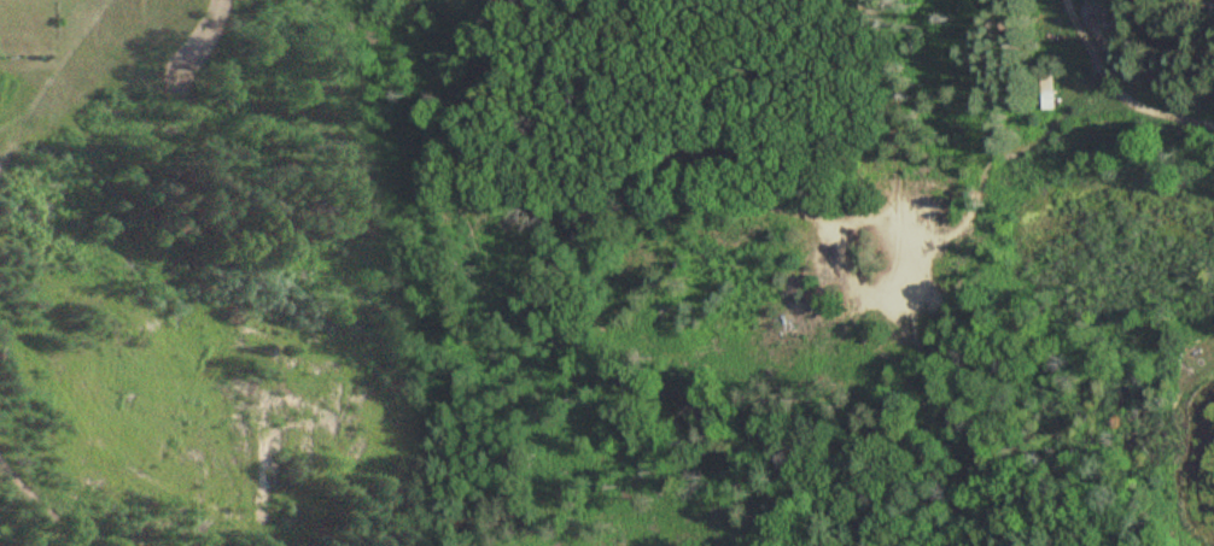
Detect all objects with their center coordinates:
building: (1050, 89)

